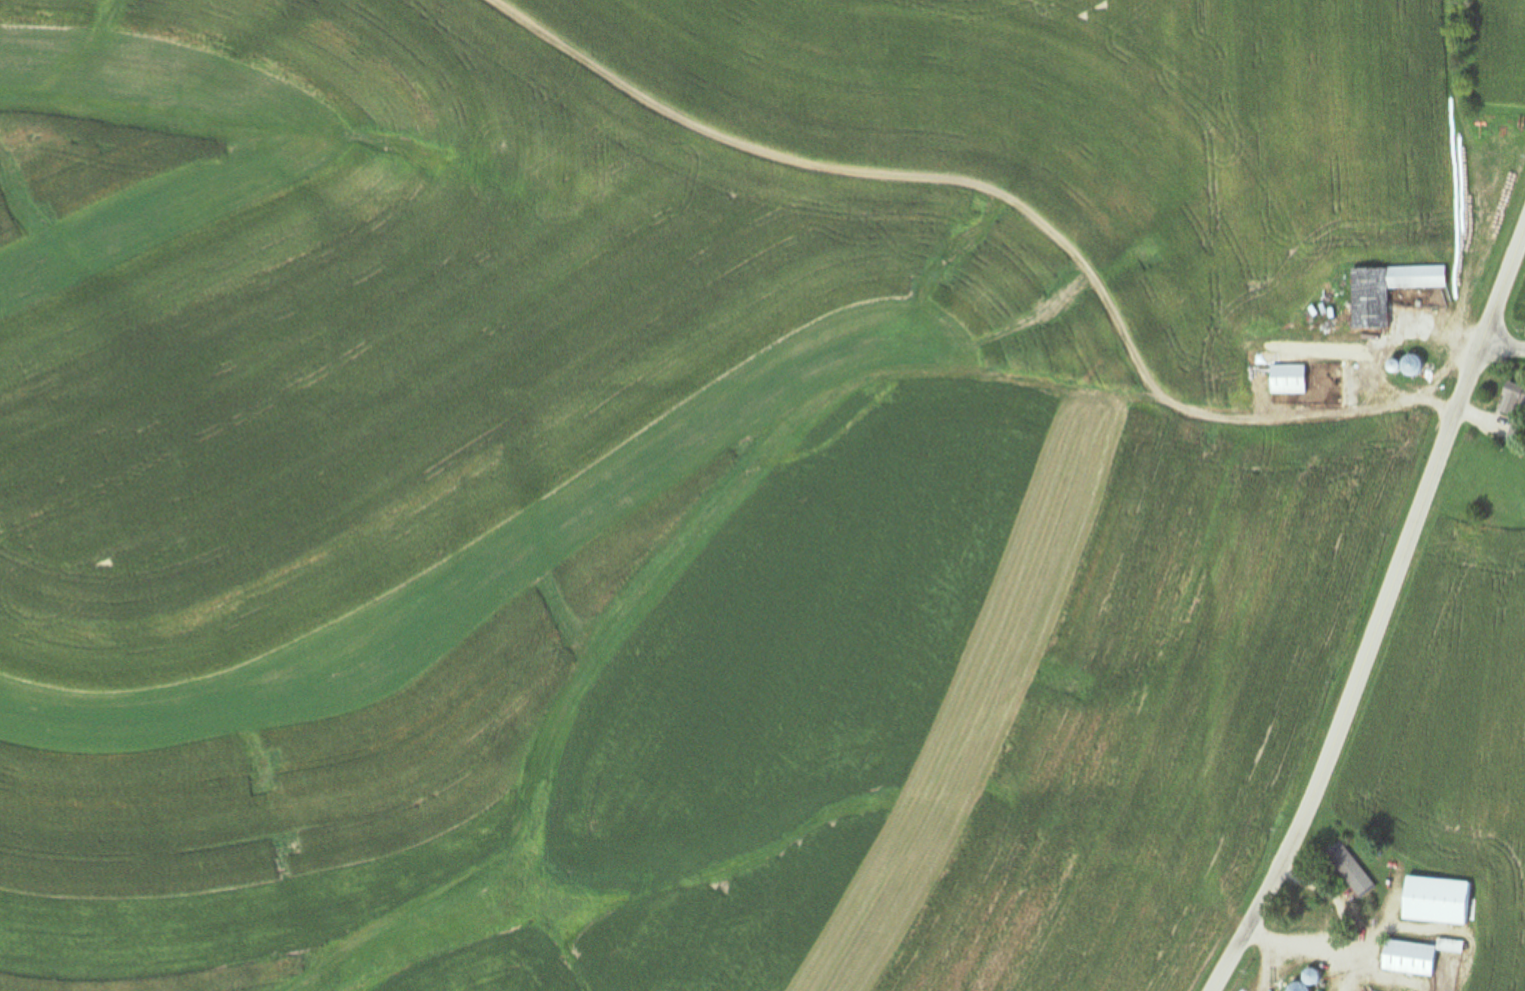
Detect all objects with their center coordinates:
building: (1387, 290)
road: (1504, 348)
building: (1409, 365)
building: (1288, 379)
building: (1513, 401)
building: (1517, 431)
road: (1383, 618)
building: (1349, 869)
building: (1436, 901)
building: (1416, 956)
building: (1307, 981)

